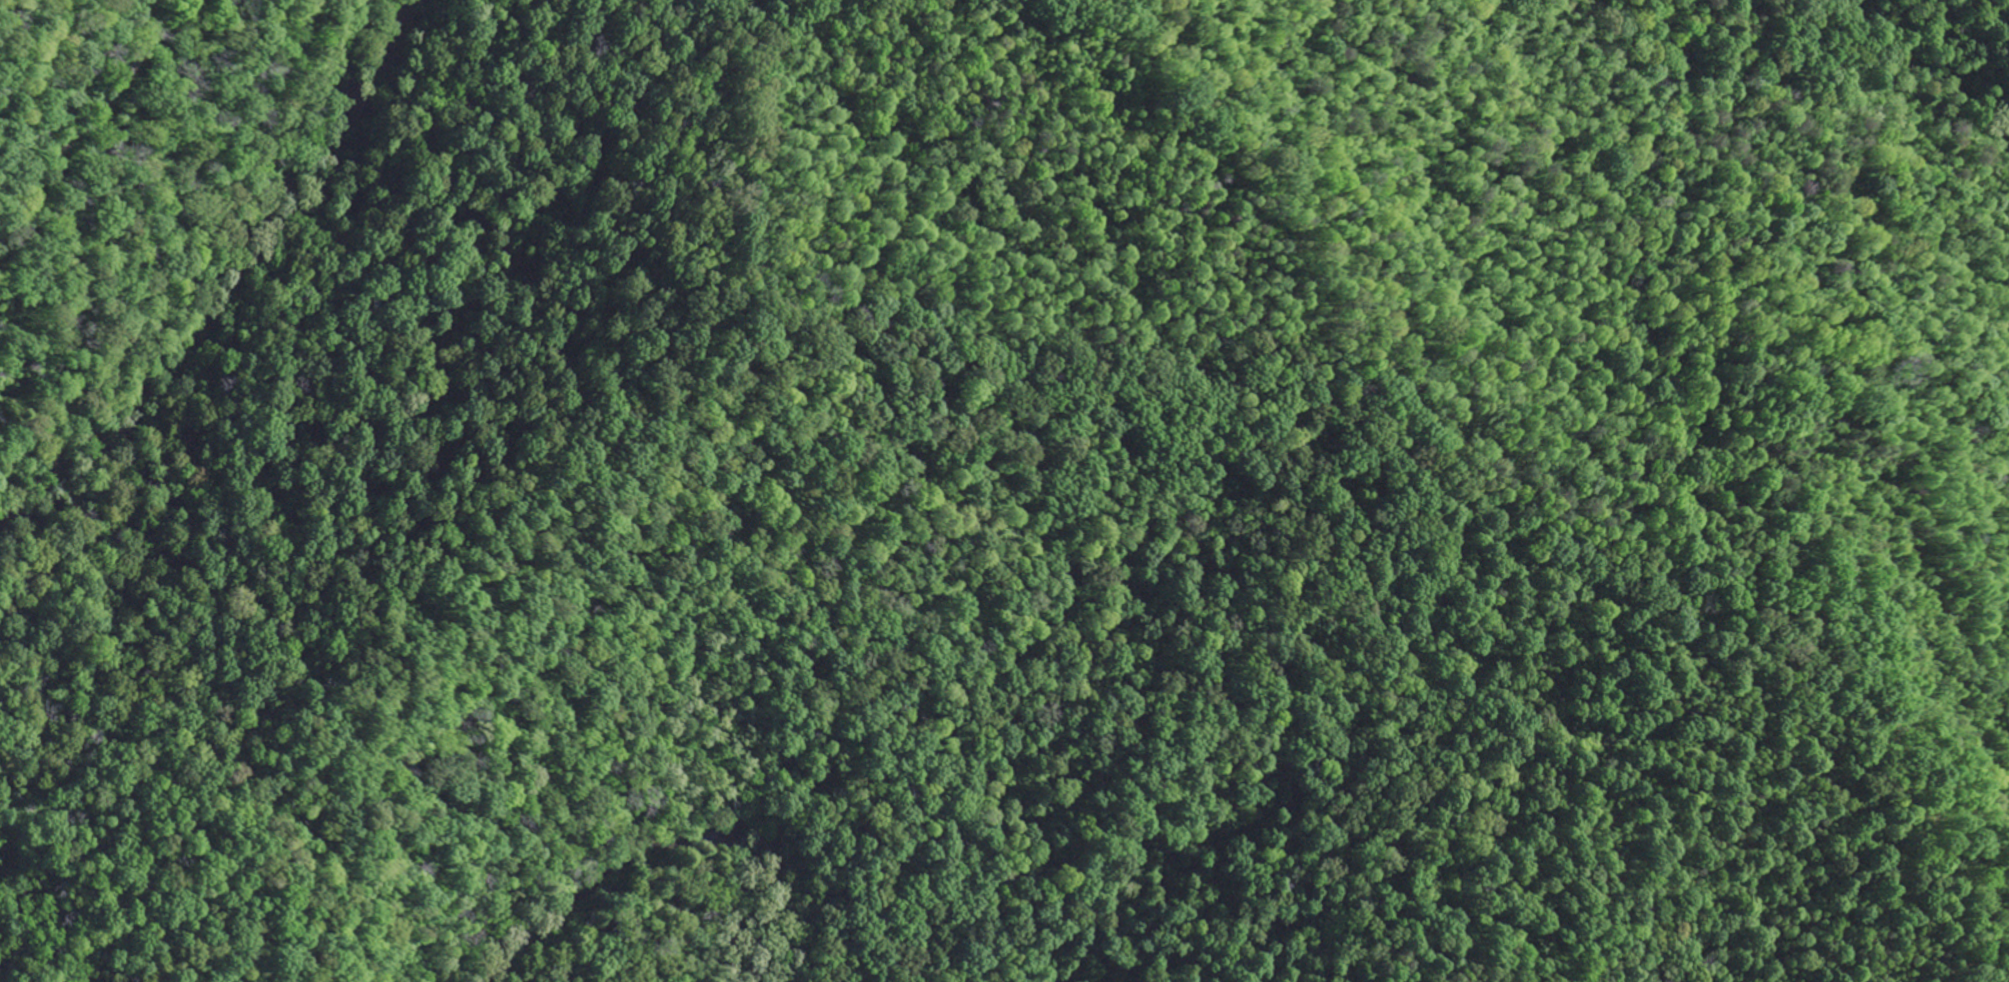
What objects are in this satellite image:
road: (89, 120)
road: (158, 214)

